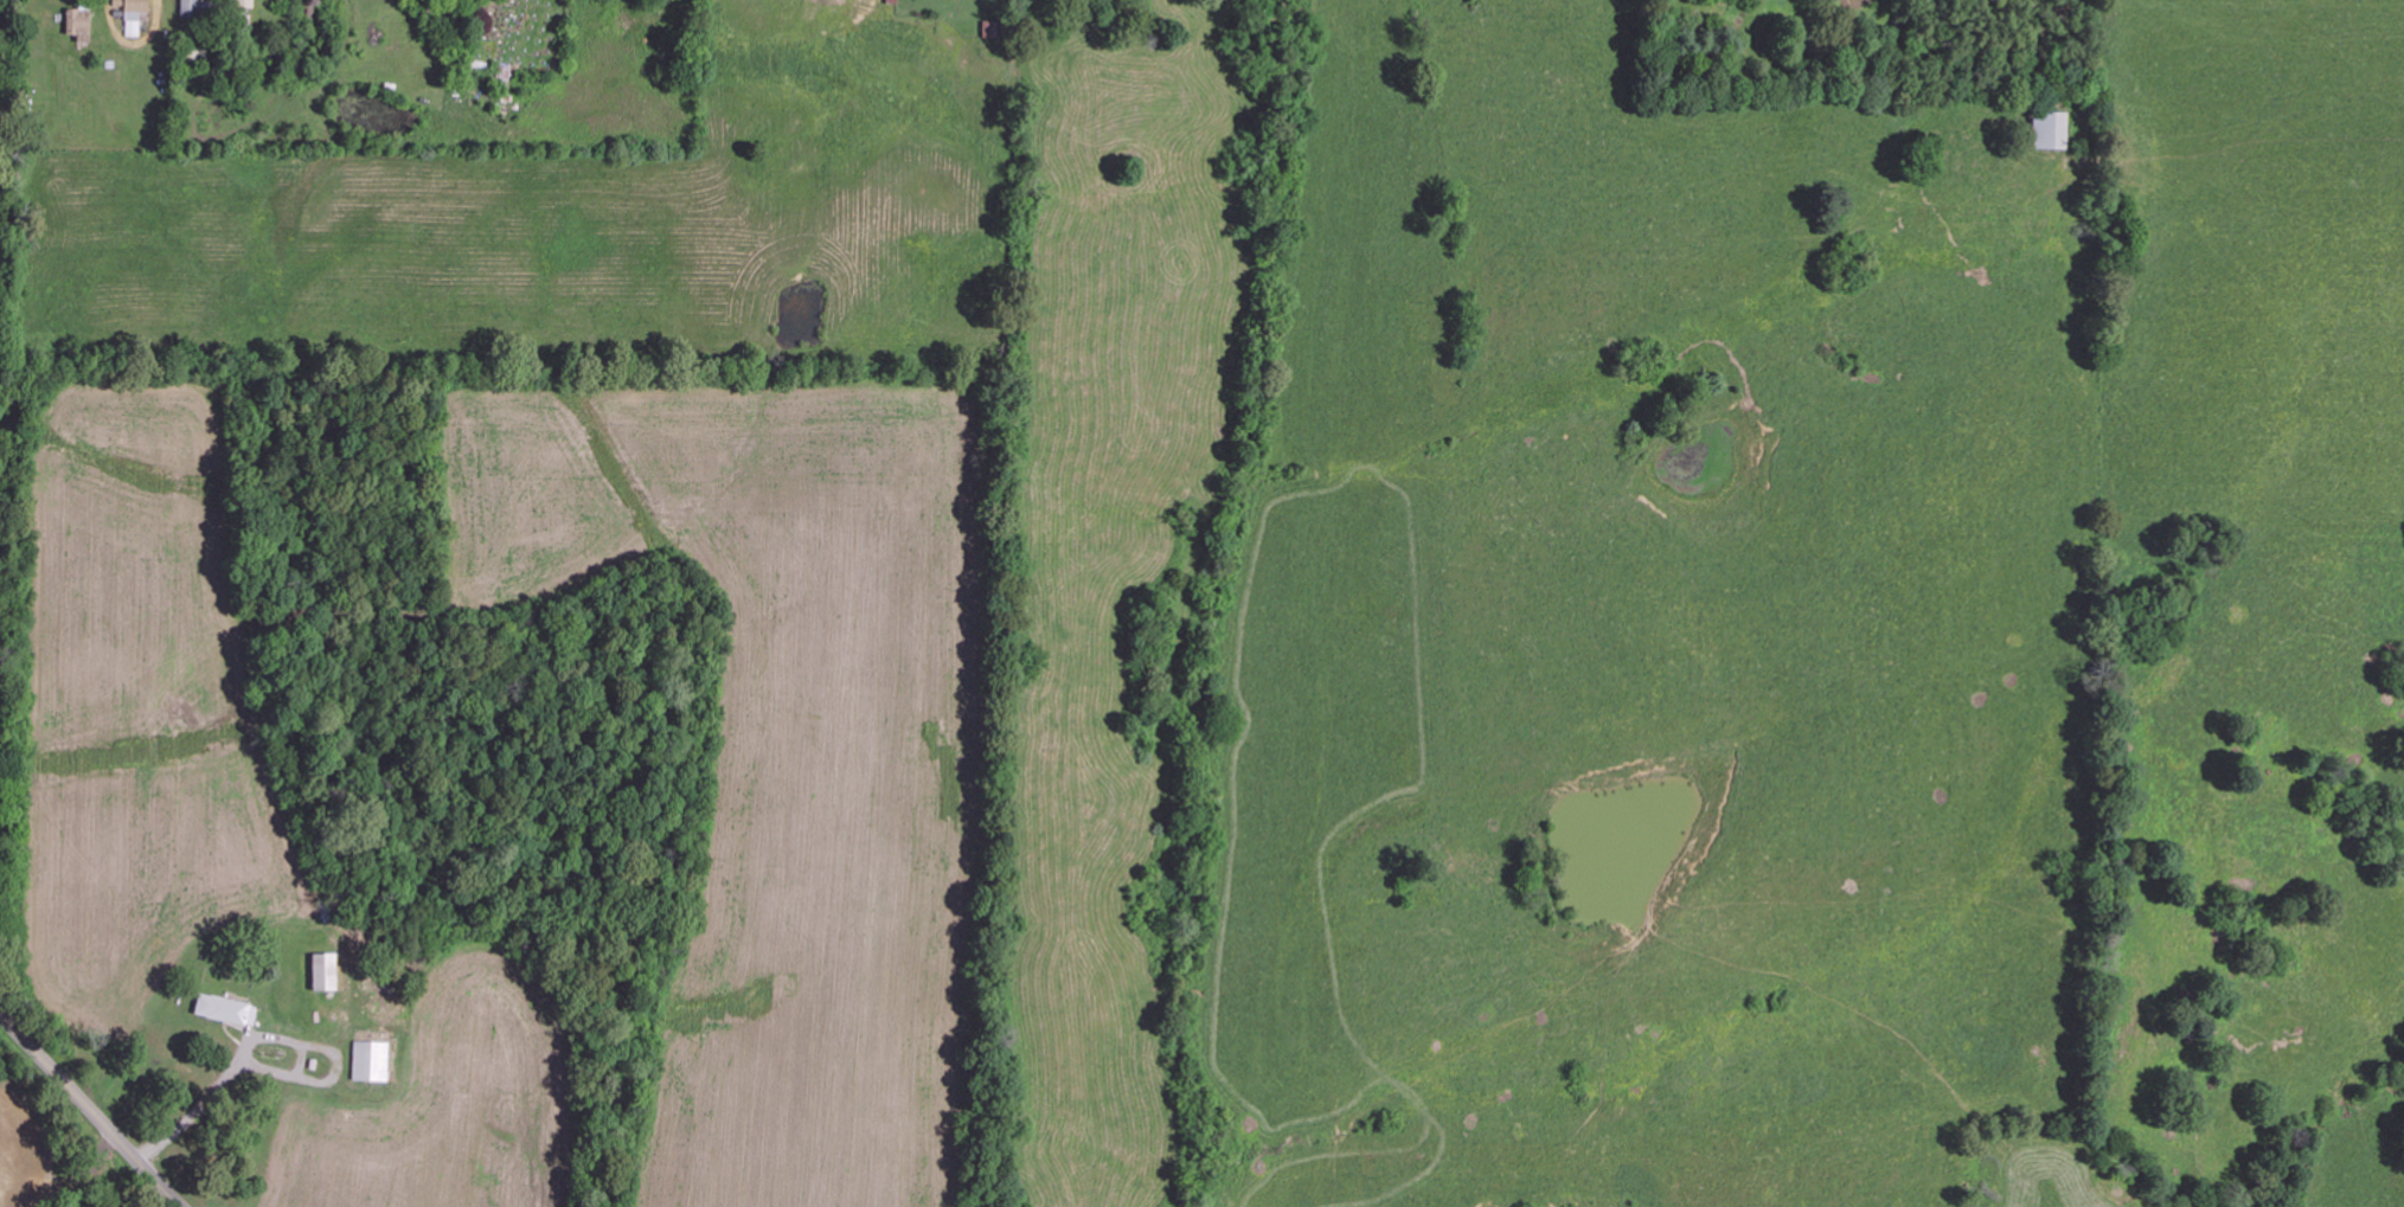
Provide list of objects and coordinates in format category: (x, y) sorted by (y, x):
building: (249, 4)
building: (192, 7)
building: (2044, 130)
building: (326, 971)
building: (224, 1007)
building: (373, 1060)
road: (91, 1110)

